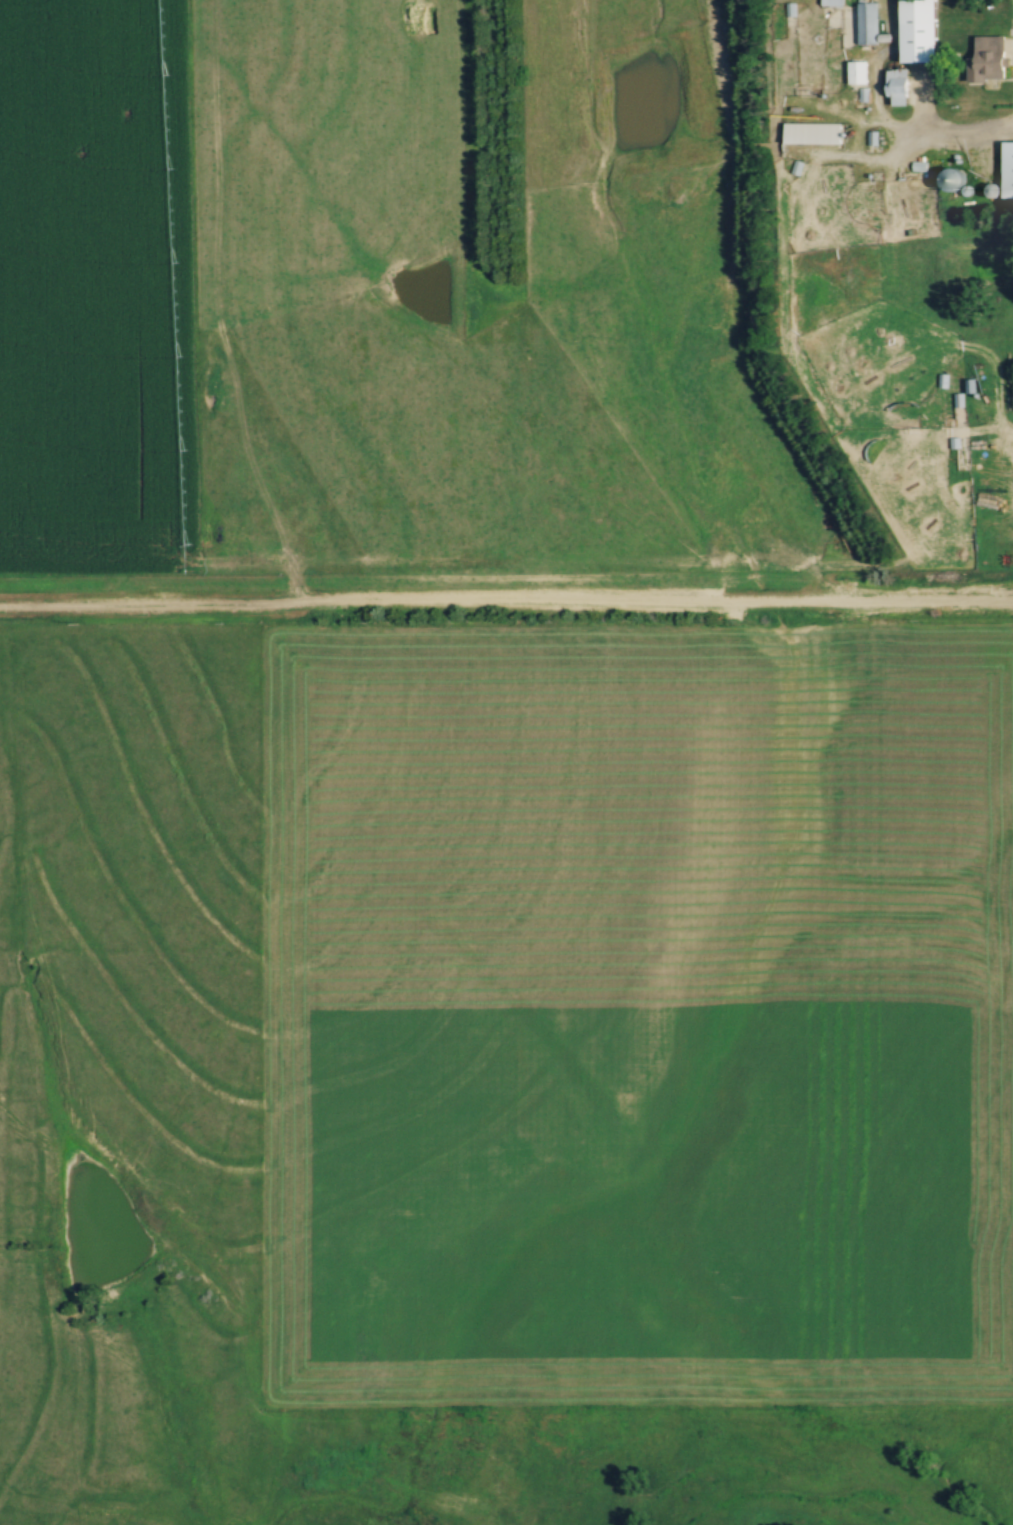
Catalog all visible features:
building: (831, 2)
building: (867, 24)
building: (919, 34)
building: (988, 59)
building: (897, 76)
building: (810, 136)
road: (964, 138)
building: (1009, 173)
building: (952, 179)
road: (979, 438)
road: (506, 607)

